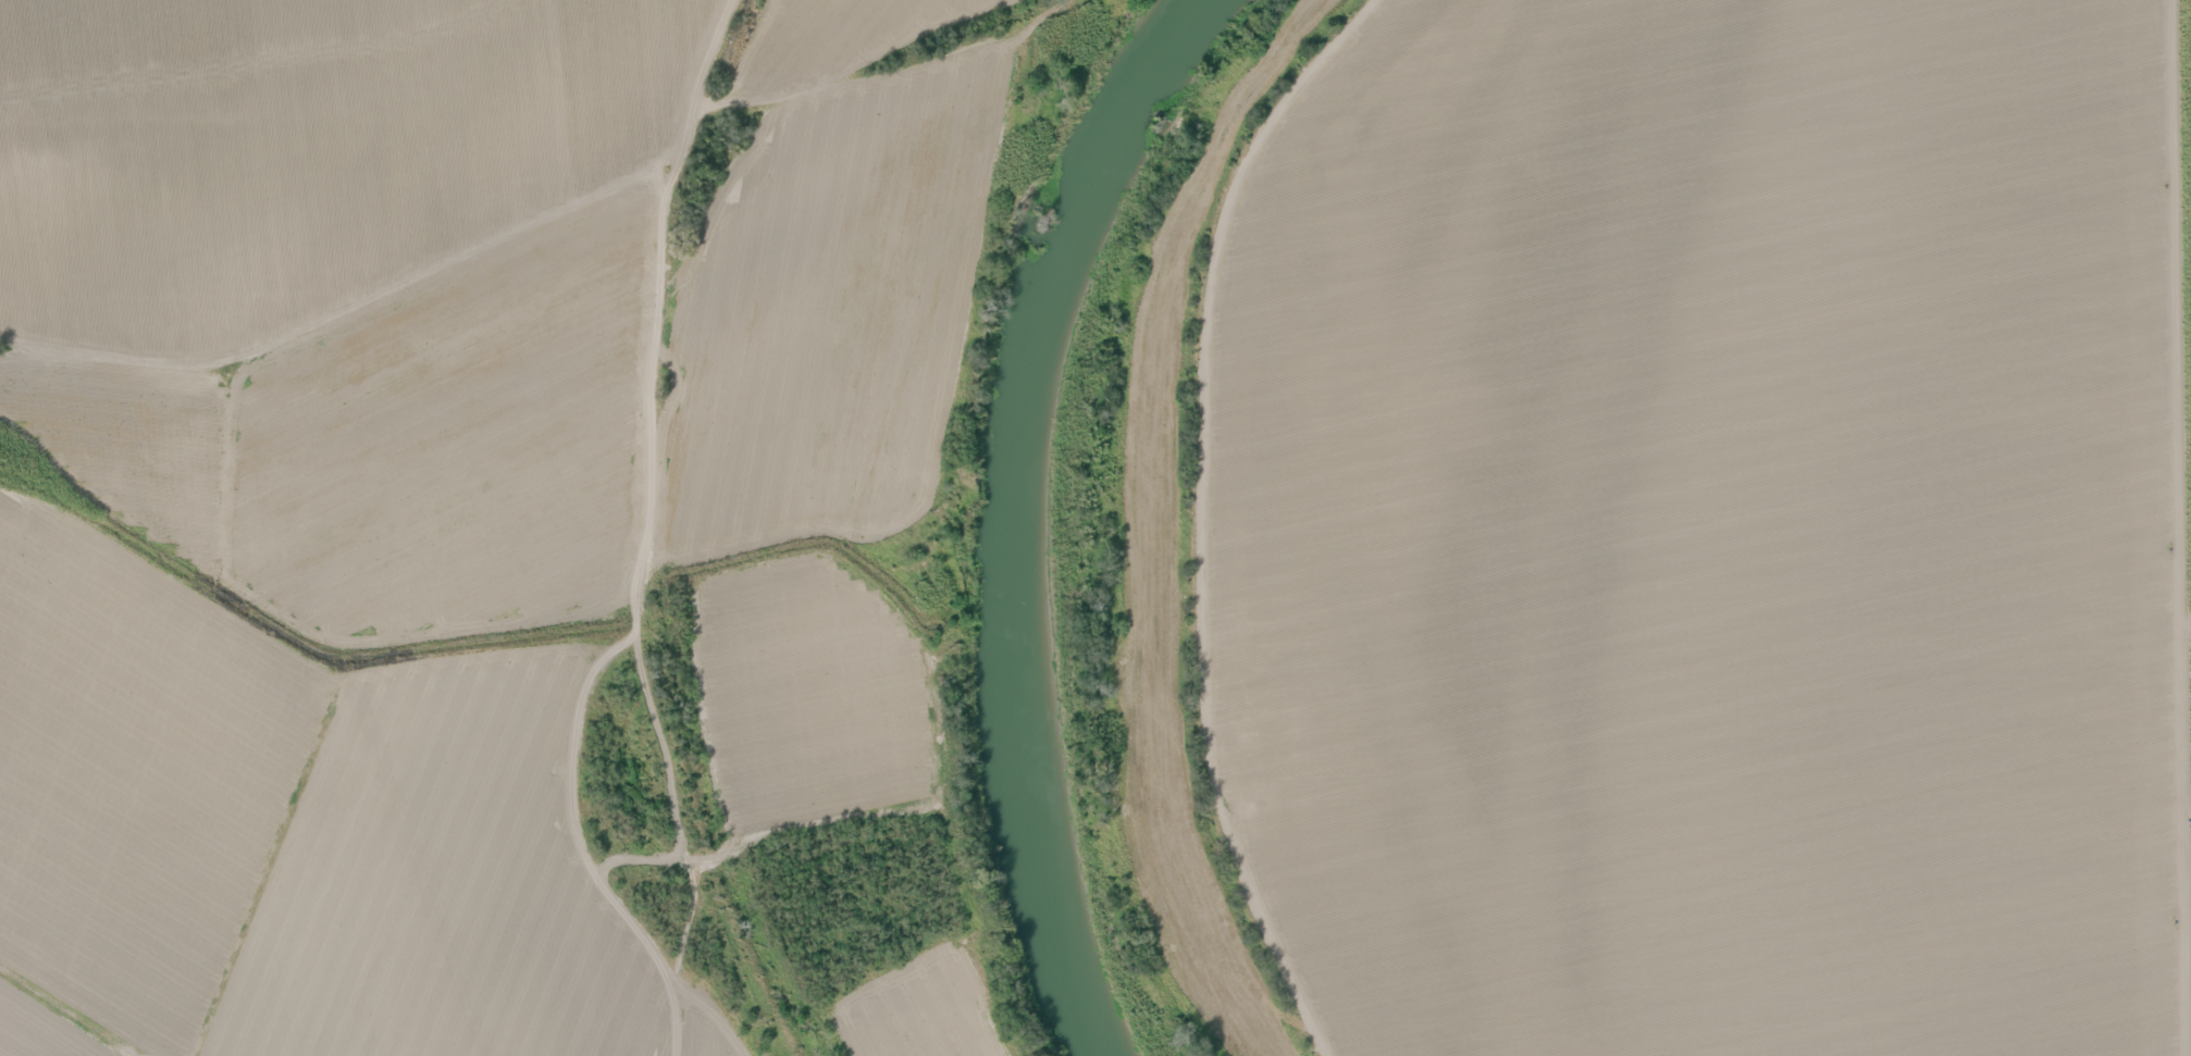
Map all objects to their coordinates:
road: (1196, 513)
river: (1024, 519)
road: (2173, 527)
road: (2182, 634)

